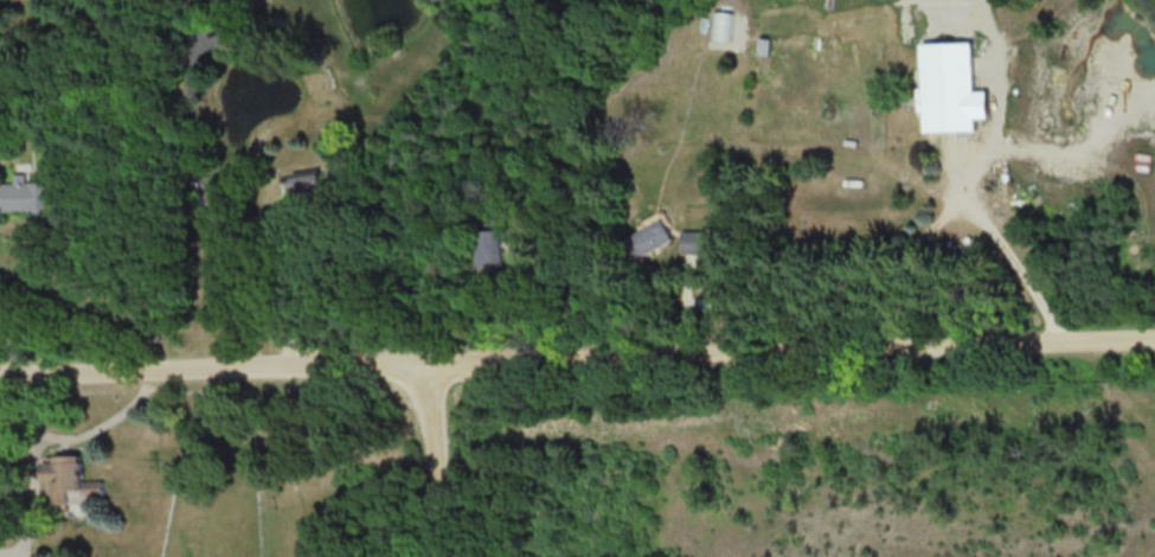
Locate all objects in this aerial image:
building: (219, 0)
building: (765, 44)
building: (922, 90)
building: (310, 181)
road: (969, 190)
building: (26, 193)
road: (200, 194)
building: (649, 236)
building: (697, 241)
building: (492, 245)
road: (8, 340)
road: (577, 351)
road: (100, 422)
road: (442, 456)
building: (69, 479)
road: (33, 481)

